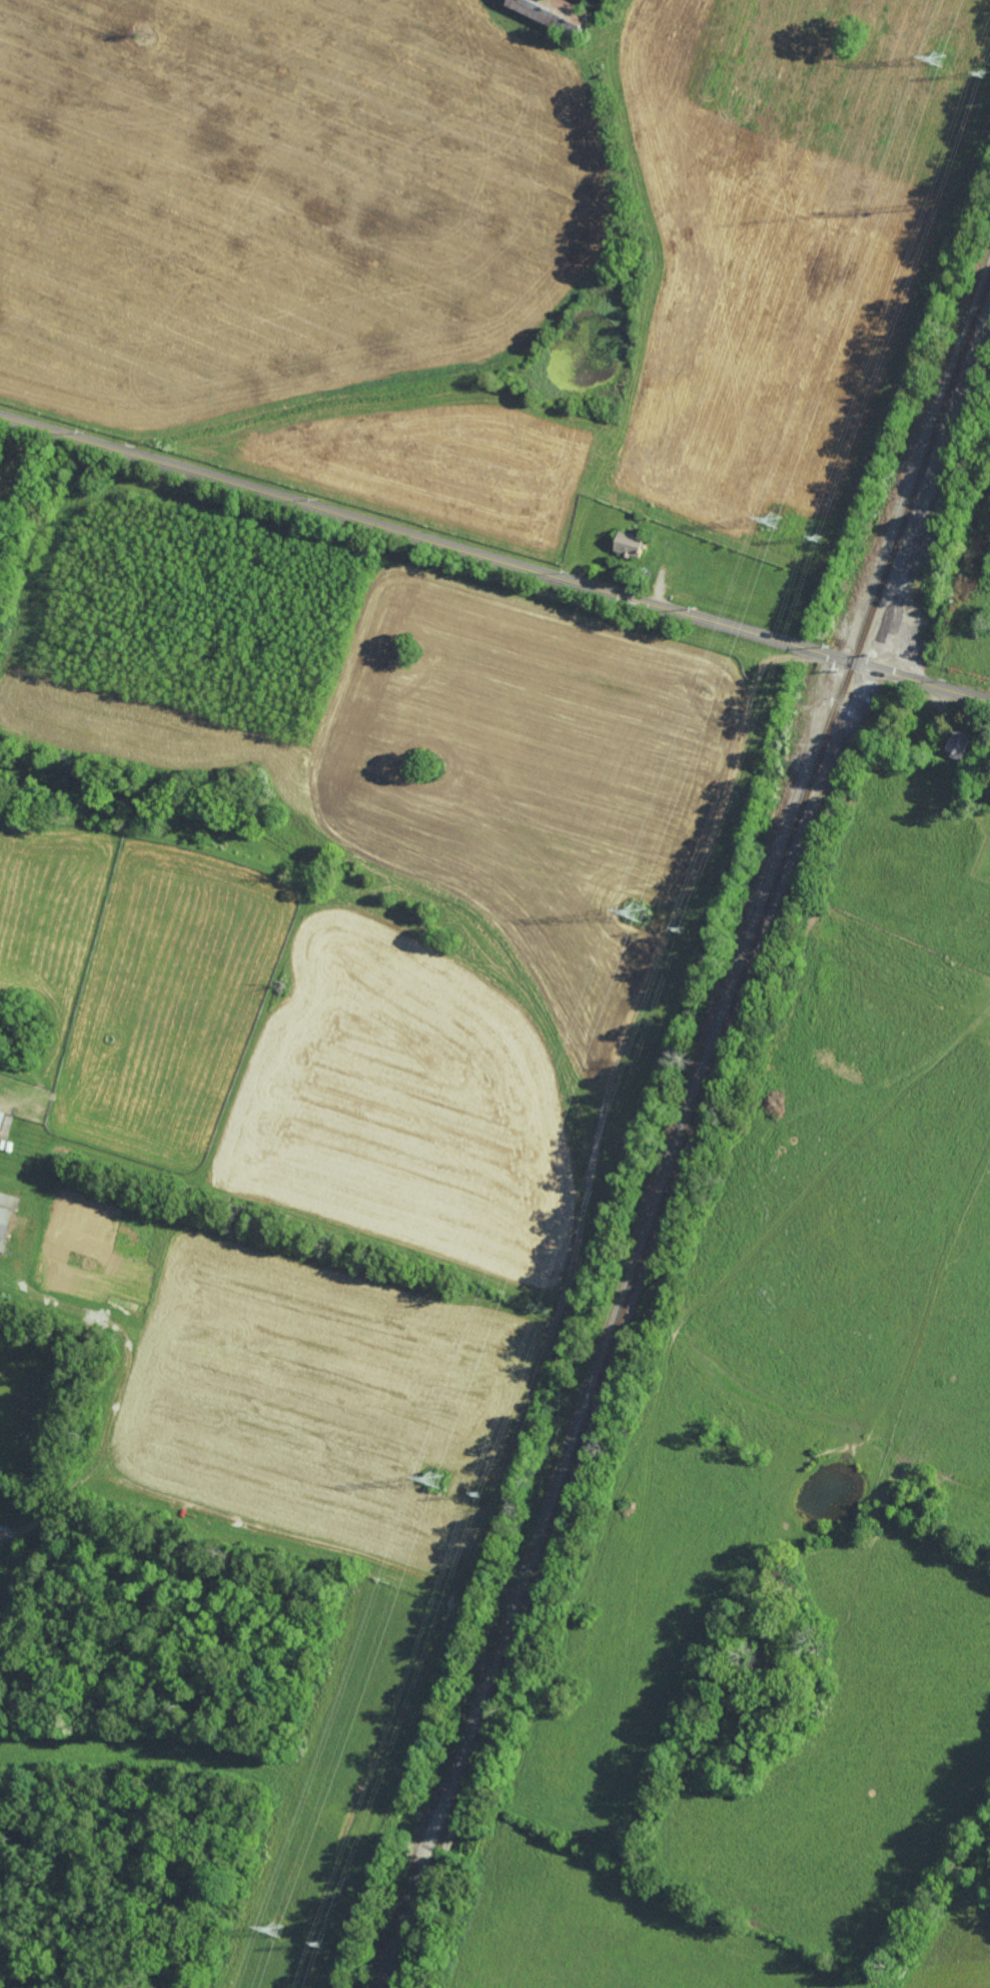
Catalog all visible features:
building: (555, 13)
power tower: (941, 61)
power tower: (782, 526)
building: (630, 544)
power tower: (820, 547)
road: (494, 560)
building: (958, 743)
power tower: (637, 912)
power tower: (686, 930)
building: (2, 1120)
railway: (688, 1133)
building: (6, 1217)
power tower: (443, 1481)
power tower: (484, 1498)
power tower: (278, 1935)
power tower: (327, 1947)

